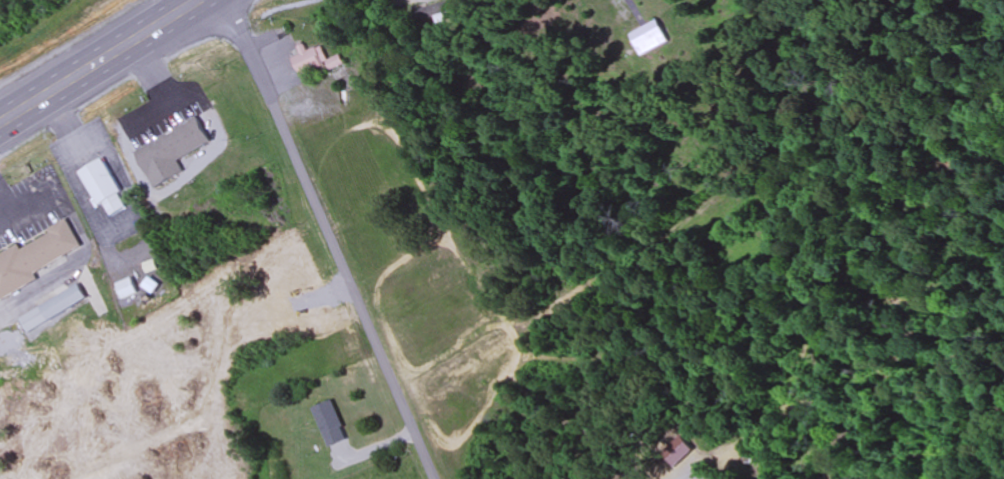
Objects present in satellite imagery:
building: (432, 13)
building: (651, 37)
road: (100, 61)
building: (317, 61)
building: (171, 152)
building: (105, 188)
road: (332, 238)
building: (35, 257)
building: (128, 288)
building: (55, 308)
building: (330, 423)

